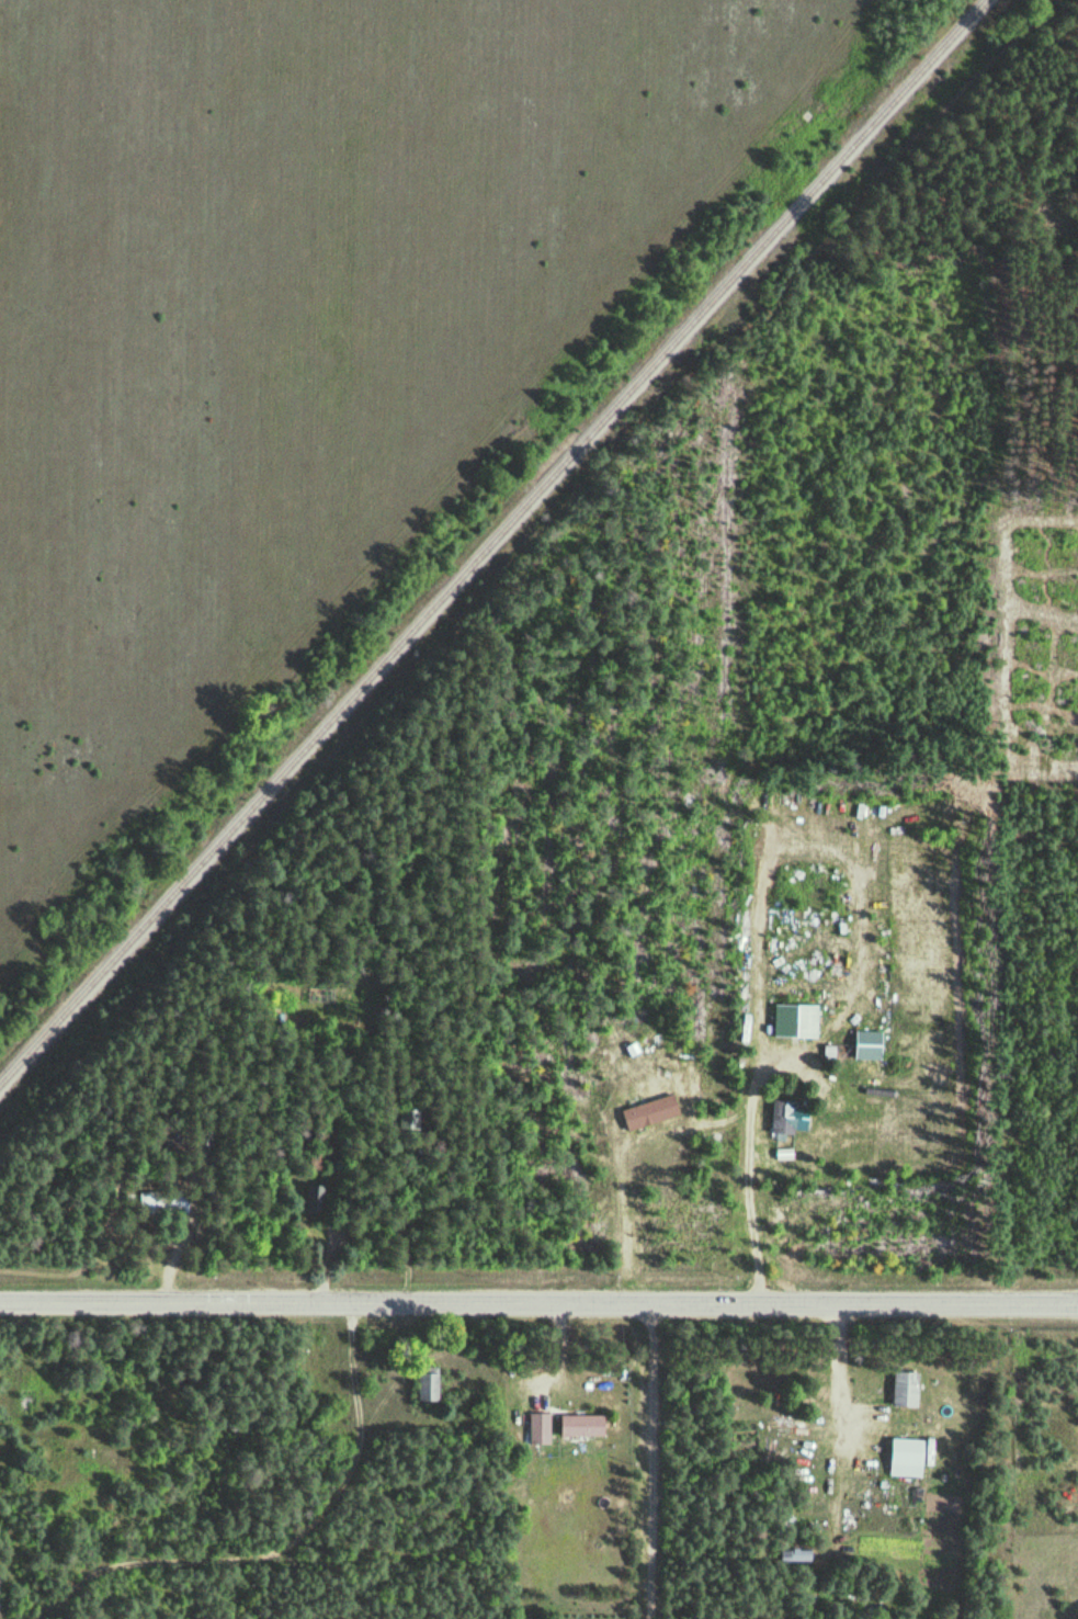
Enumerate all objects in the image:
railway: (492, 542)
building: (647, 1111)
building: (314, 1198)
building: (161, 1202)
road: (538, 1302)
building: (424, 1383)
building: (903, 1388)
building: (578, 1425)
building: (537, 1427)
building: (748, 1441)
building: (906, 1456)
road: (660, 1460)

